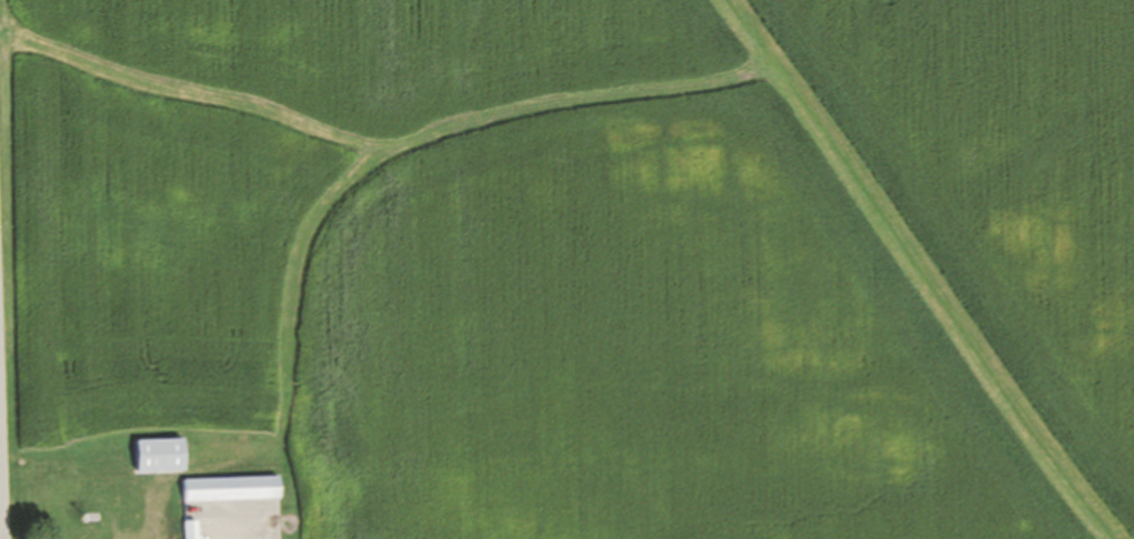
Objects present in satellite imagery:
building: (158, 454)
building: (229, 488)
building: (190, 529)

